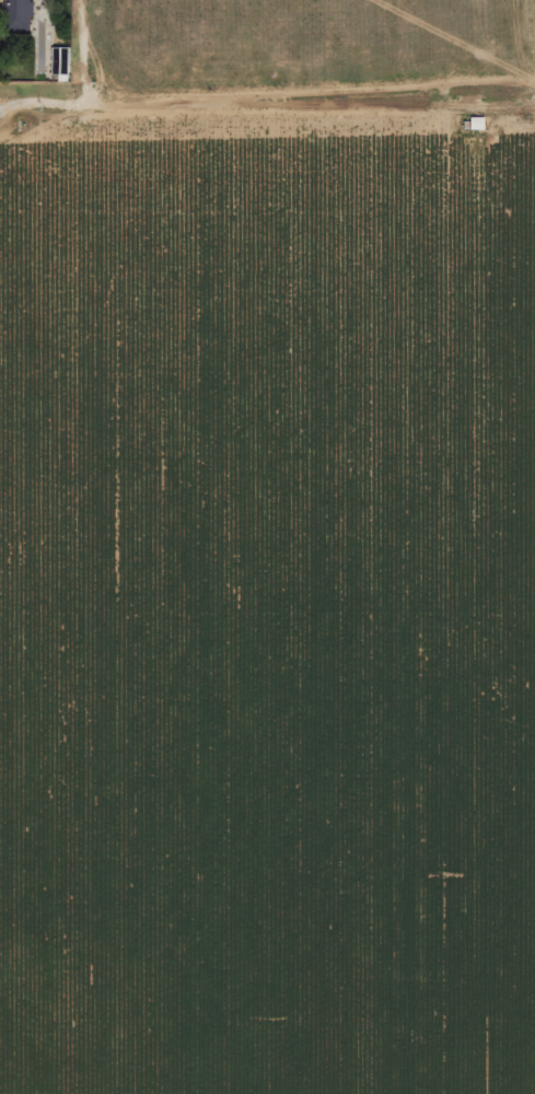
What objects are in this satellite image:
building: (19, 15)
road: (80, 86)
road: (303, 97)
road: (2, 103)

